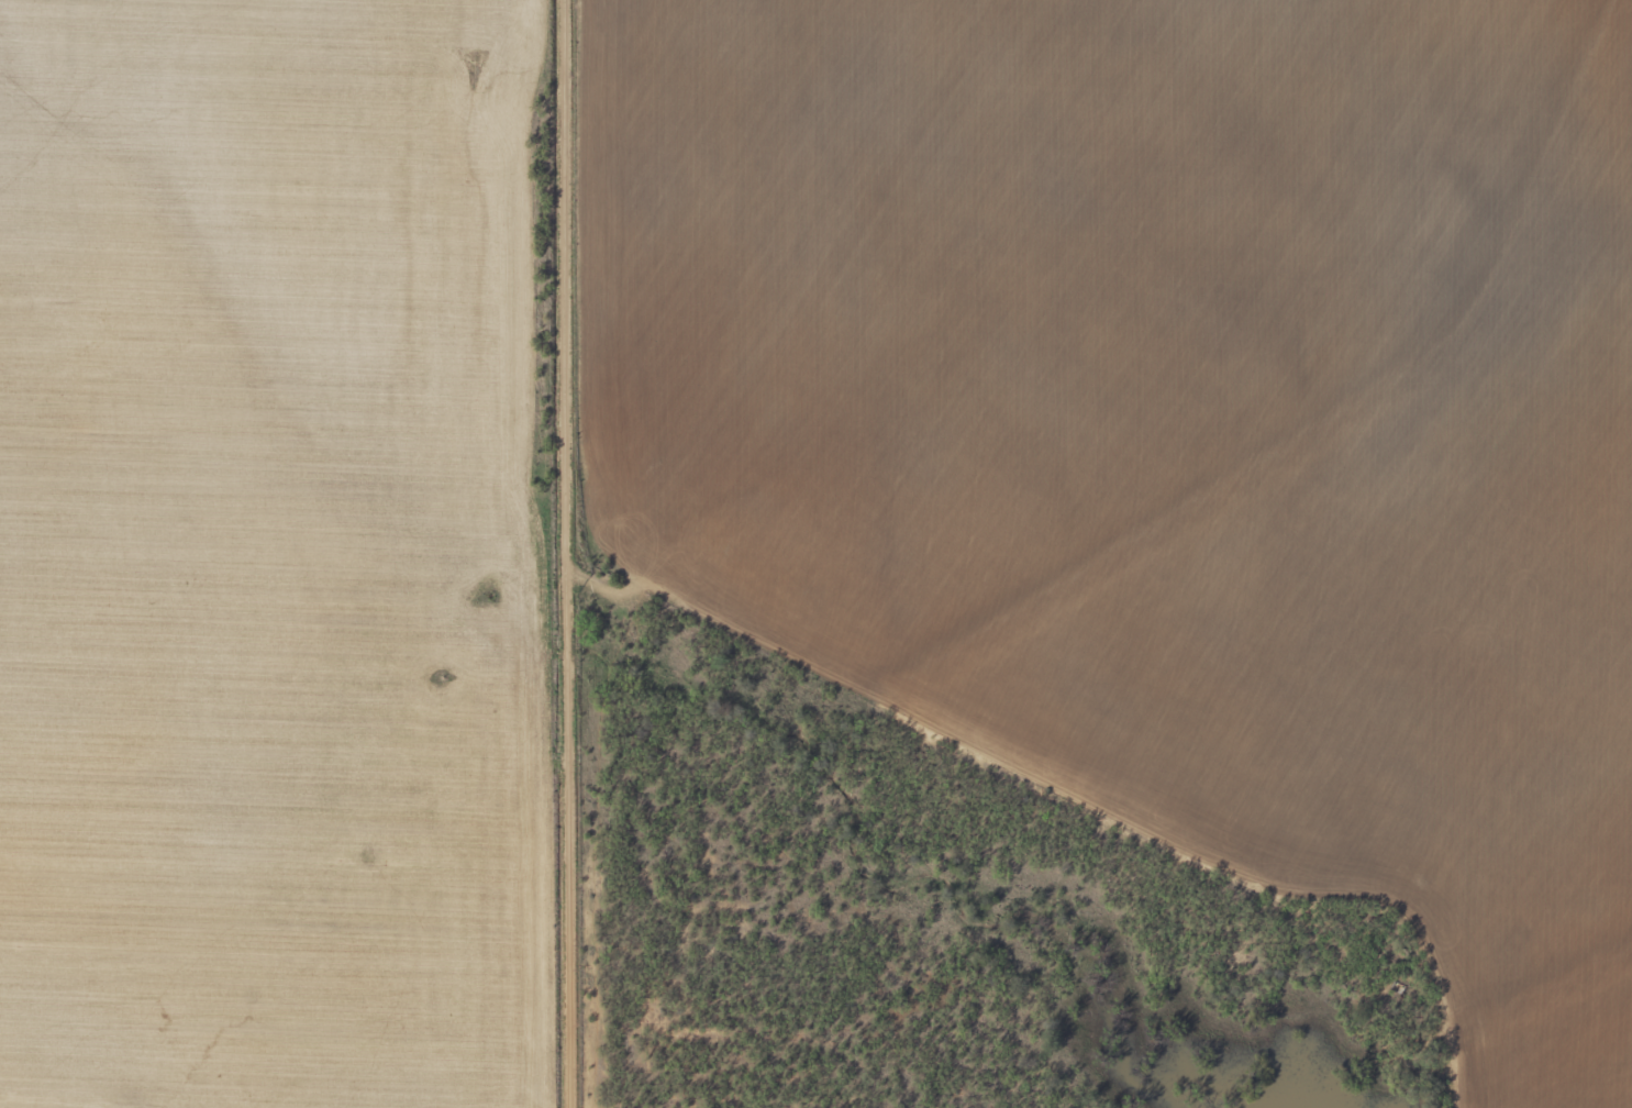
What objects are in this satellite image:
road: (570, 554)

